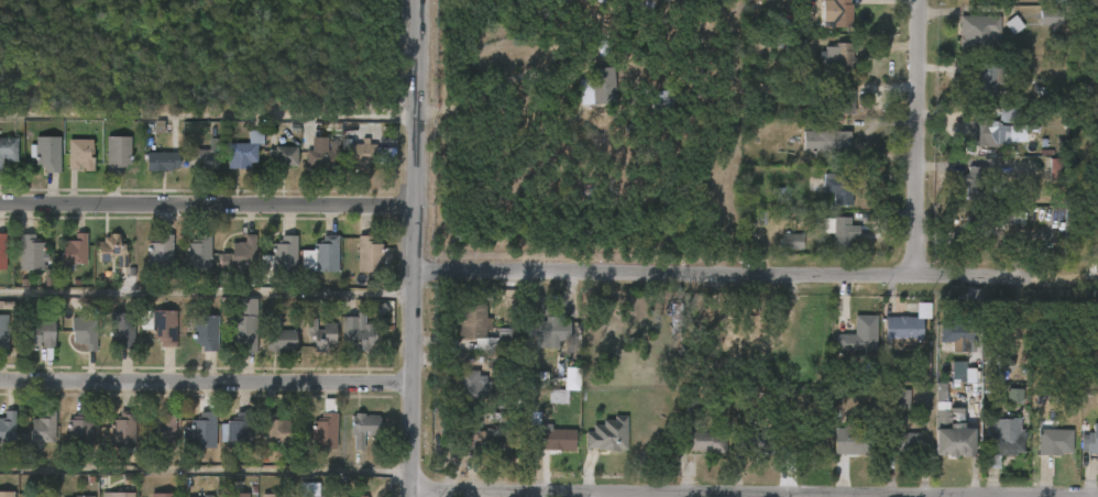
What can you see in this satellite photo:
building: (1059, 0)
building: (600, 1)
building: (568, 3)
building: (841, 13)
building: (1048, 16)
building: (1011, 24)
building: (976, 26)
building: (842, 58)
building: (985, 78)
building: (595, 85)
road: (492, 88)
building: (842, 97)
building: (659, 99)
road: (209, 117)
building: (992, 129)
road: (922, 135)
building: (824, 140)
building: (9, 148)
building: (244, 151)
building: (47, 152)
building: (80, 153)
building: (118, 153)
building: (362, 154)
building: (205, 155)
building: (284, 155)
building: (322, 157)
building: (162, 161)
building: (1054, 169)
building: (976, 181)
building: (838, 188)
road: (208, 205)
building: (1029, 211)
building: (979, 225)
building: (842, 228)
building: (790, 240)
road: (416, 247)
building: (110, 250)
building: (1, 251)
building: (29, 252)
building: (70, 252)
building: (241, 252)
building: (157, 253)
building: (283, 253)
building: (196, 254)
building: (323, 254)
building: (367, 255)
road: (757, 275)
road: (208, 295)
building: (975, 305)
building: (473, 321)
building: (905, 323)
building: (163, 328)
building: (120, 330)
building: (549, 331)
building: (957, 331)
building: (2, 332)
building: (83, 332)
building: (204, 332)
building: (242, 332)
building: (39, 334)
building: (319, 334)
building: (356, 334)
building: (857, 334)
building: (278, 336)
building: (509, 339)
building: (1003, 365)
building: (960, 373)
building: (535, 379)
building: (571, 379)
road: (207, 380)
building: (474, 384)
building: (1013, 397)
building: (901, 399)
building: (8, 427)
building: (364, 428)
building: (41, 429)
building: (164, 429)
building: (277, 429)
building: (80, 430)
building: (205, 430)
building: (124, 431)
building: (240, 431)
building: (325, 431)
building: (606, 432)
building: (551, 434)
building: (999, 435)
building: (1092, 437)
building: (849, 439)
building: (953, 439)
building: (488, 440)
building: (754, 440)
building: (802, 440)
building: (704, 441)
building: (1055, 441)
building: (901, 442)
building: (991, 462)
road: (206, 471)
building: (309, 489)
building: (8, 494)
building: (40, 494)
building: (114, 494)
building: (161, 494)
building: (232, 494)
building: (271, 494)
road: (634, 494)
building: (320, 495)
building: (81, 496)
building: (206, 496)
building: (360, 496)

